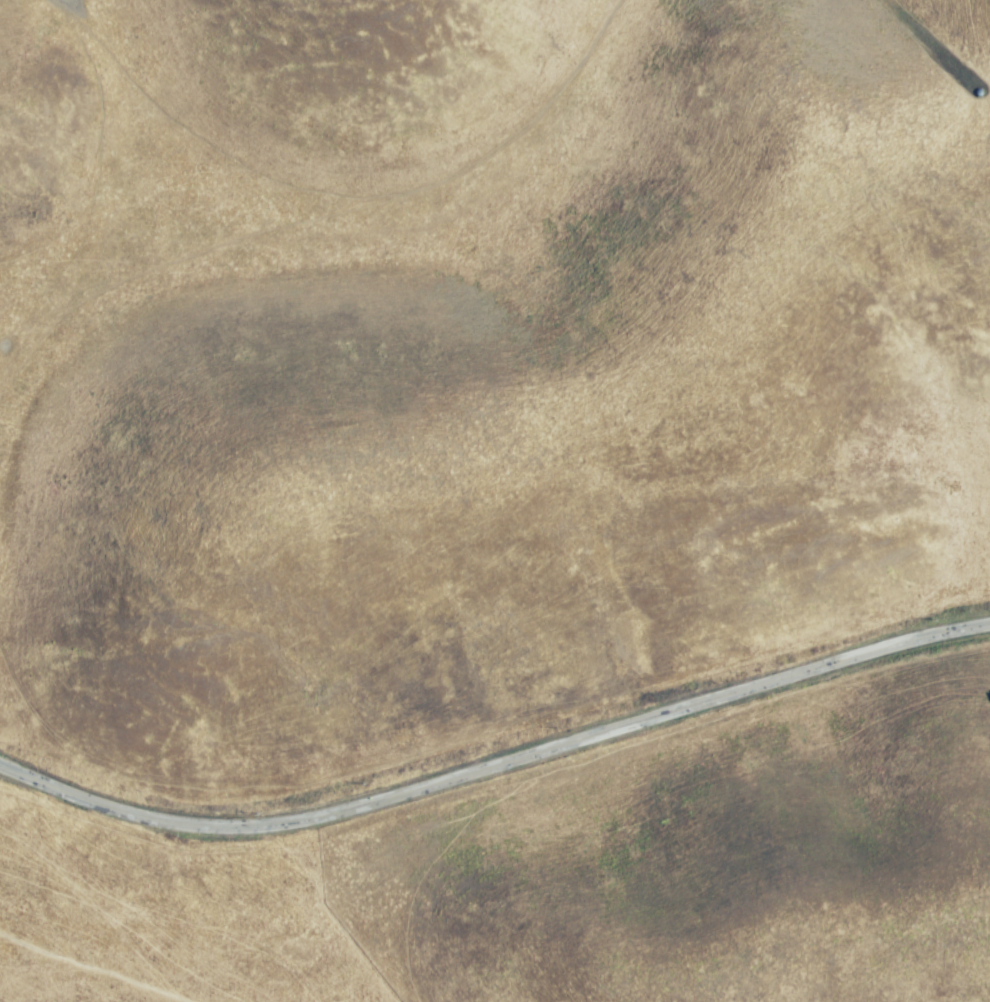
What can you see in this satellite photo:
road: (494, 758)

